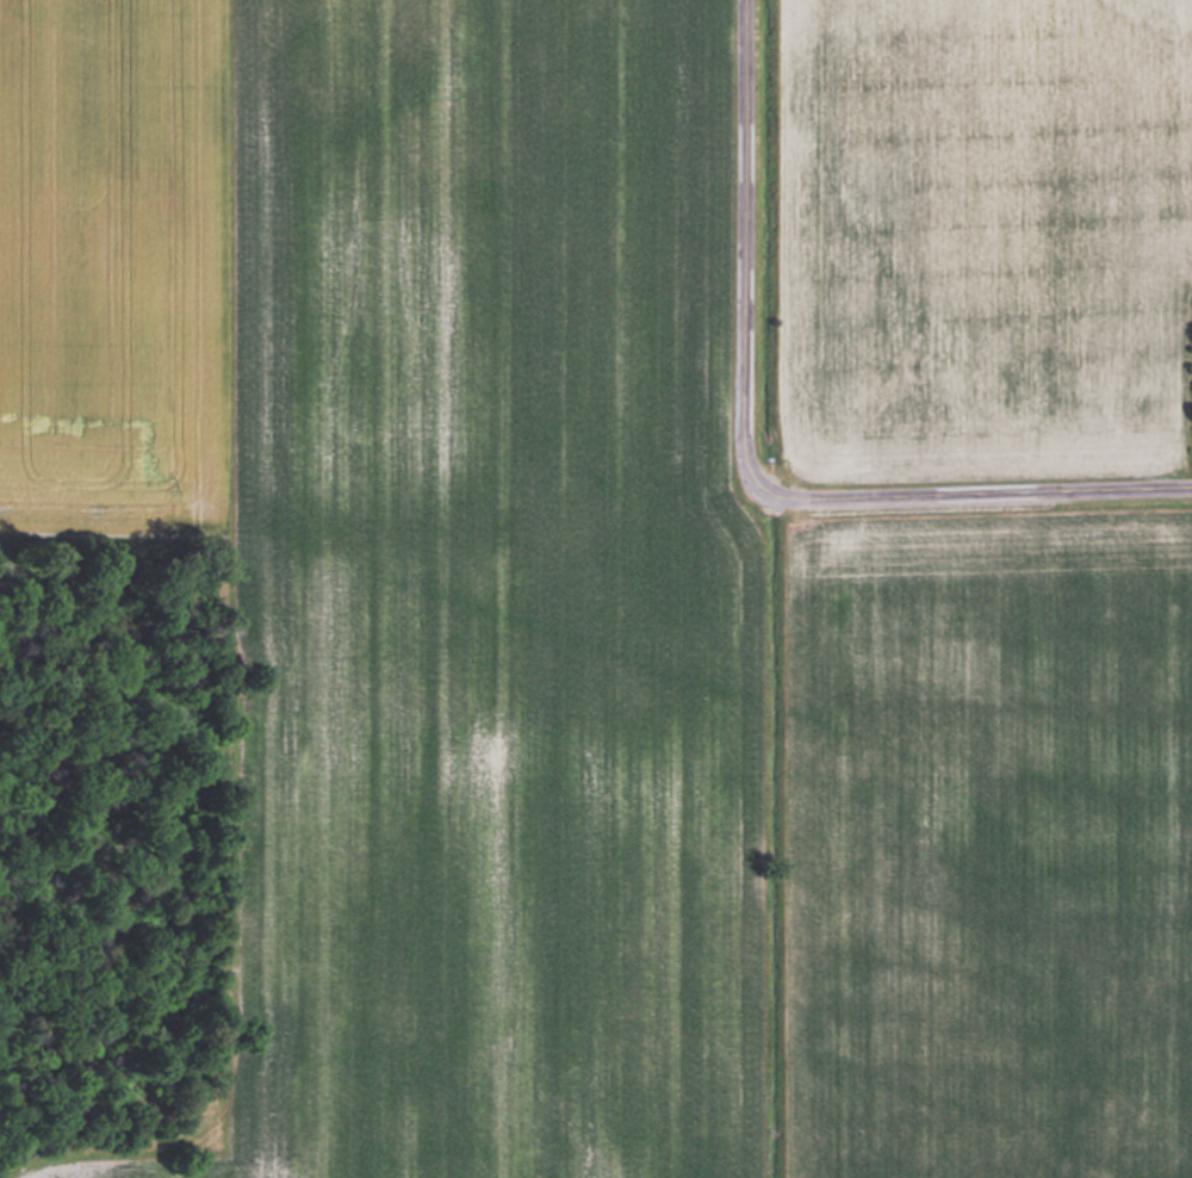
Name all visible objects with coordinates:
road: (743, 465)

